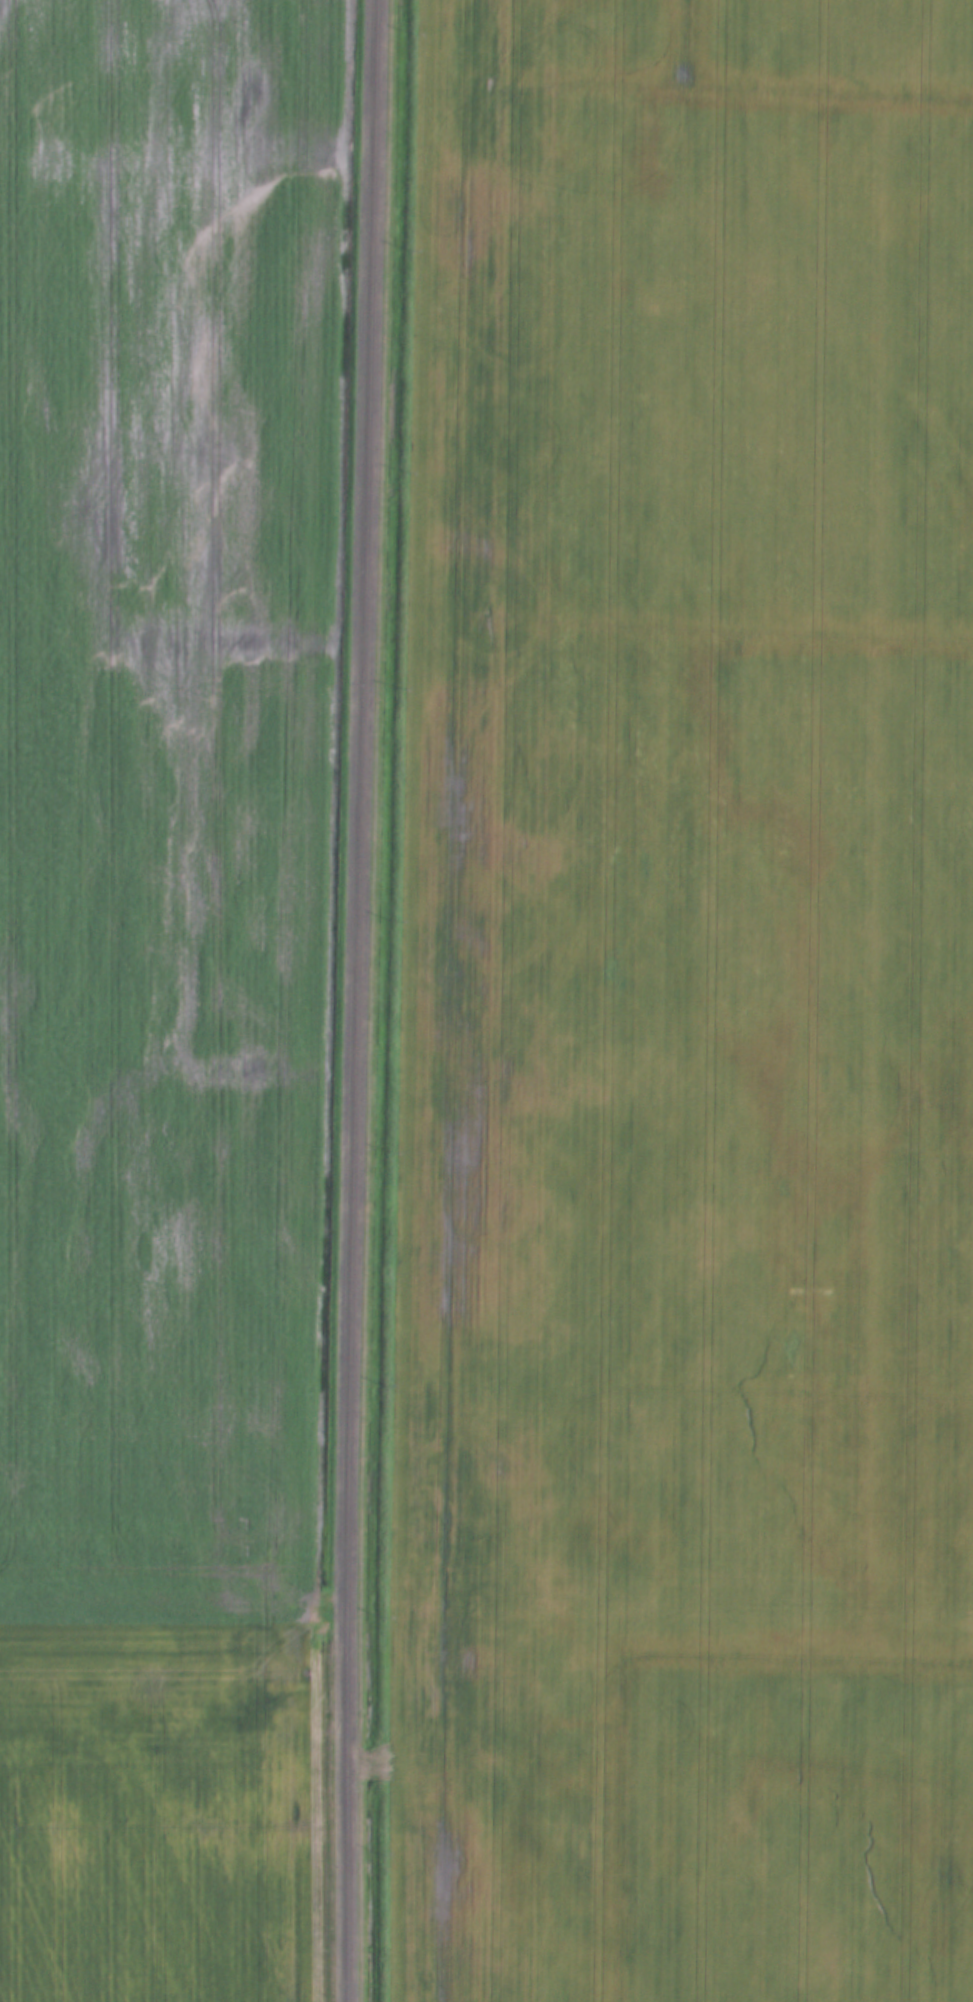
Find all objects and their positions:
road: (357, 1000)

